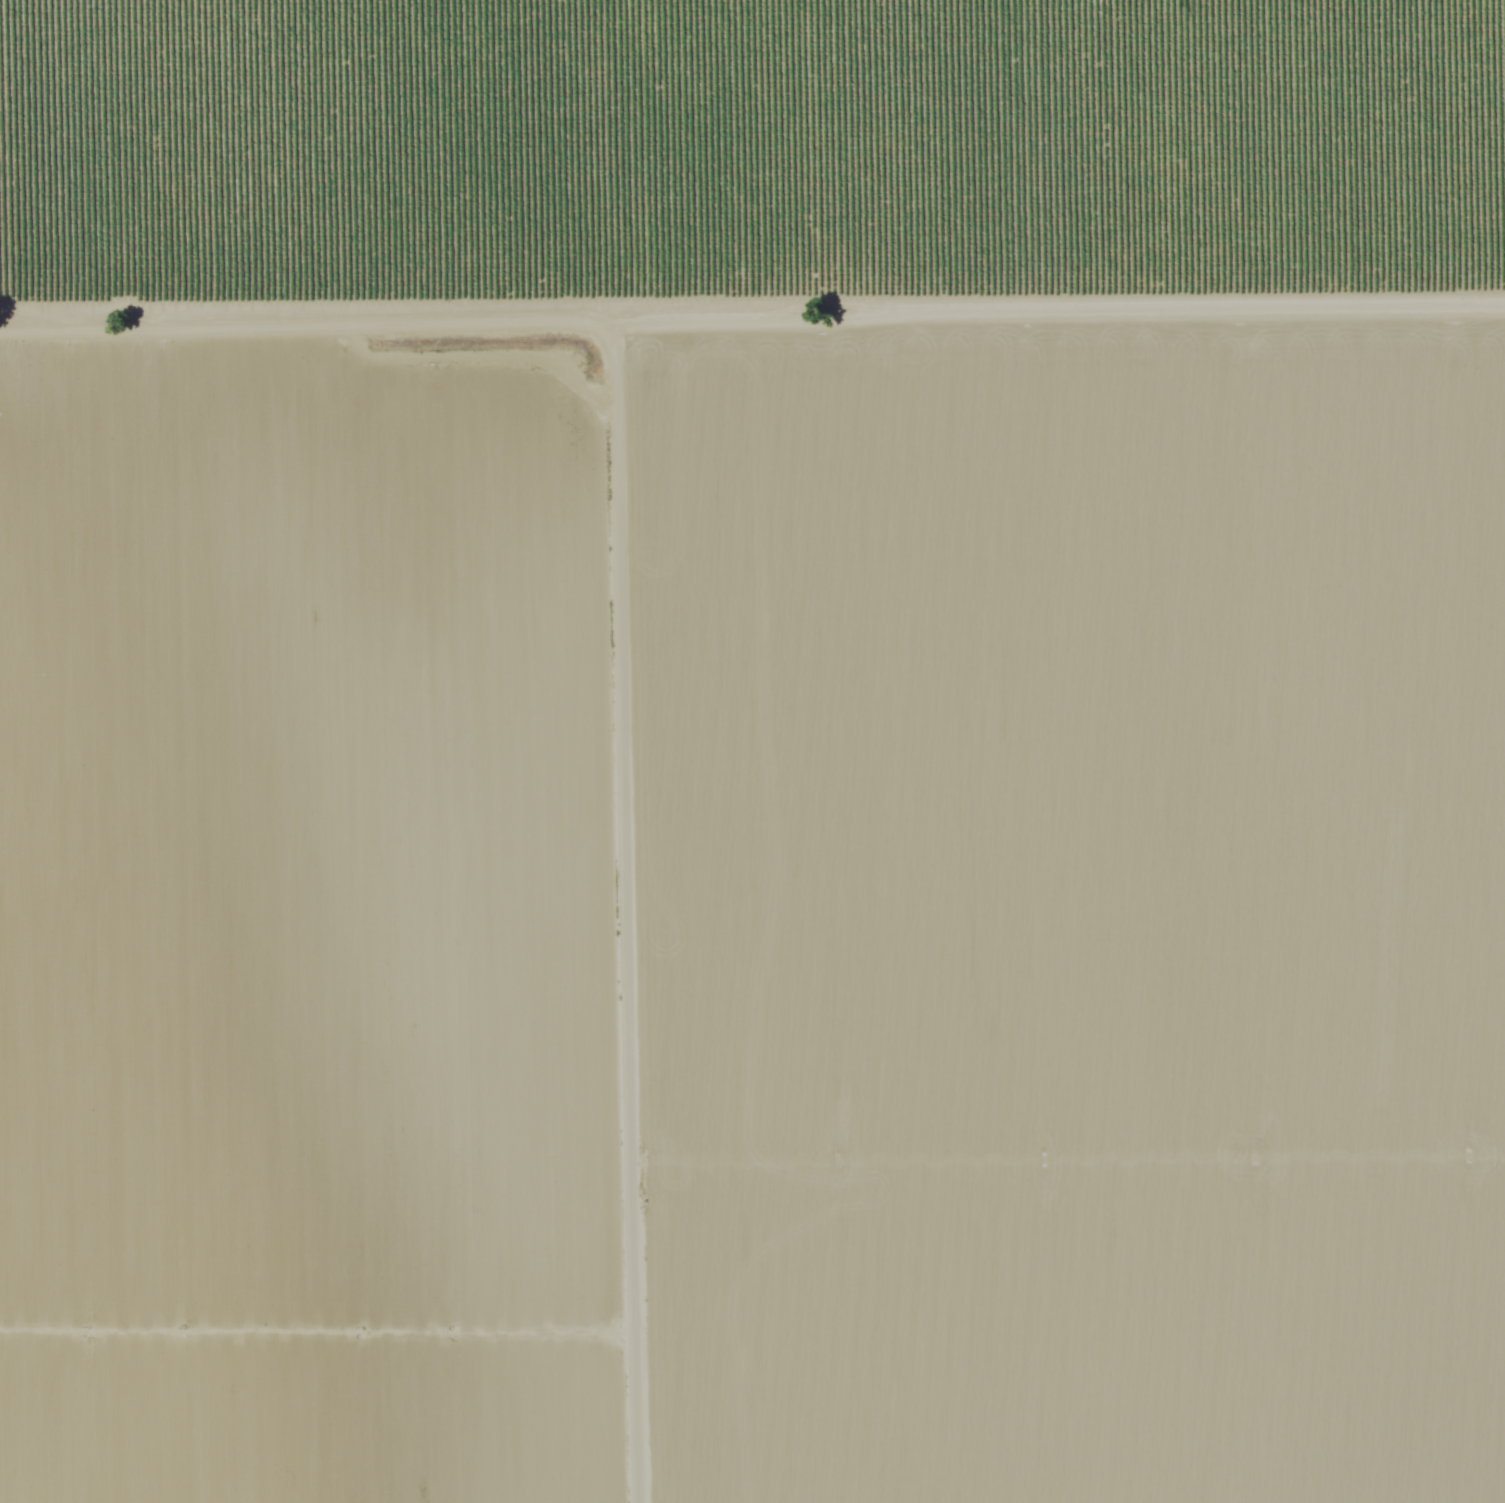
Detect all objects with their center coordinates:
crop: (1086, 918)
road: (619, 919)
crop: (309, 946)

